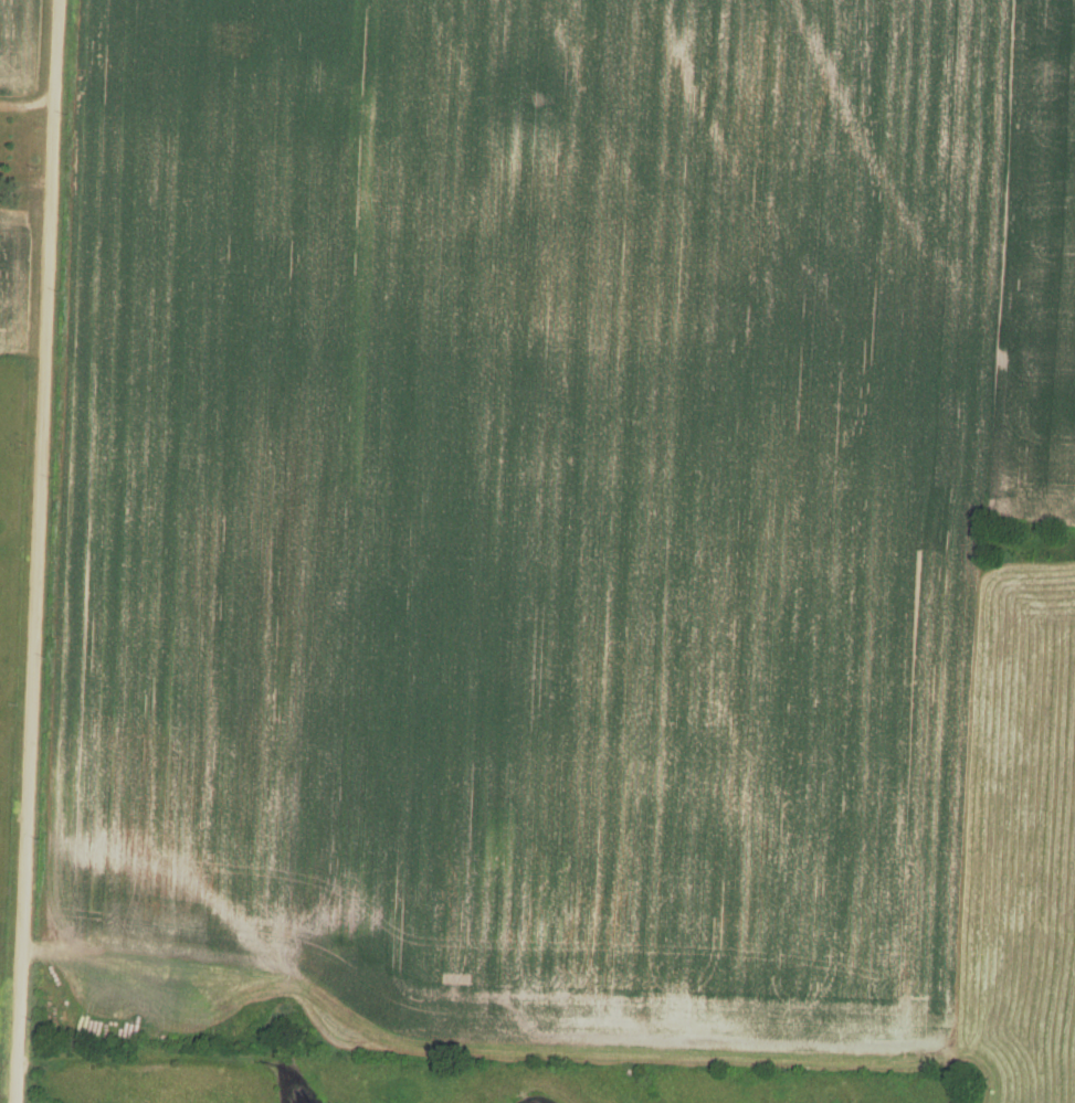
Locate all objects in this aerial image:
road: (28, 105)
road: (27, 184)
road: (36, 551)

